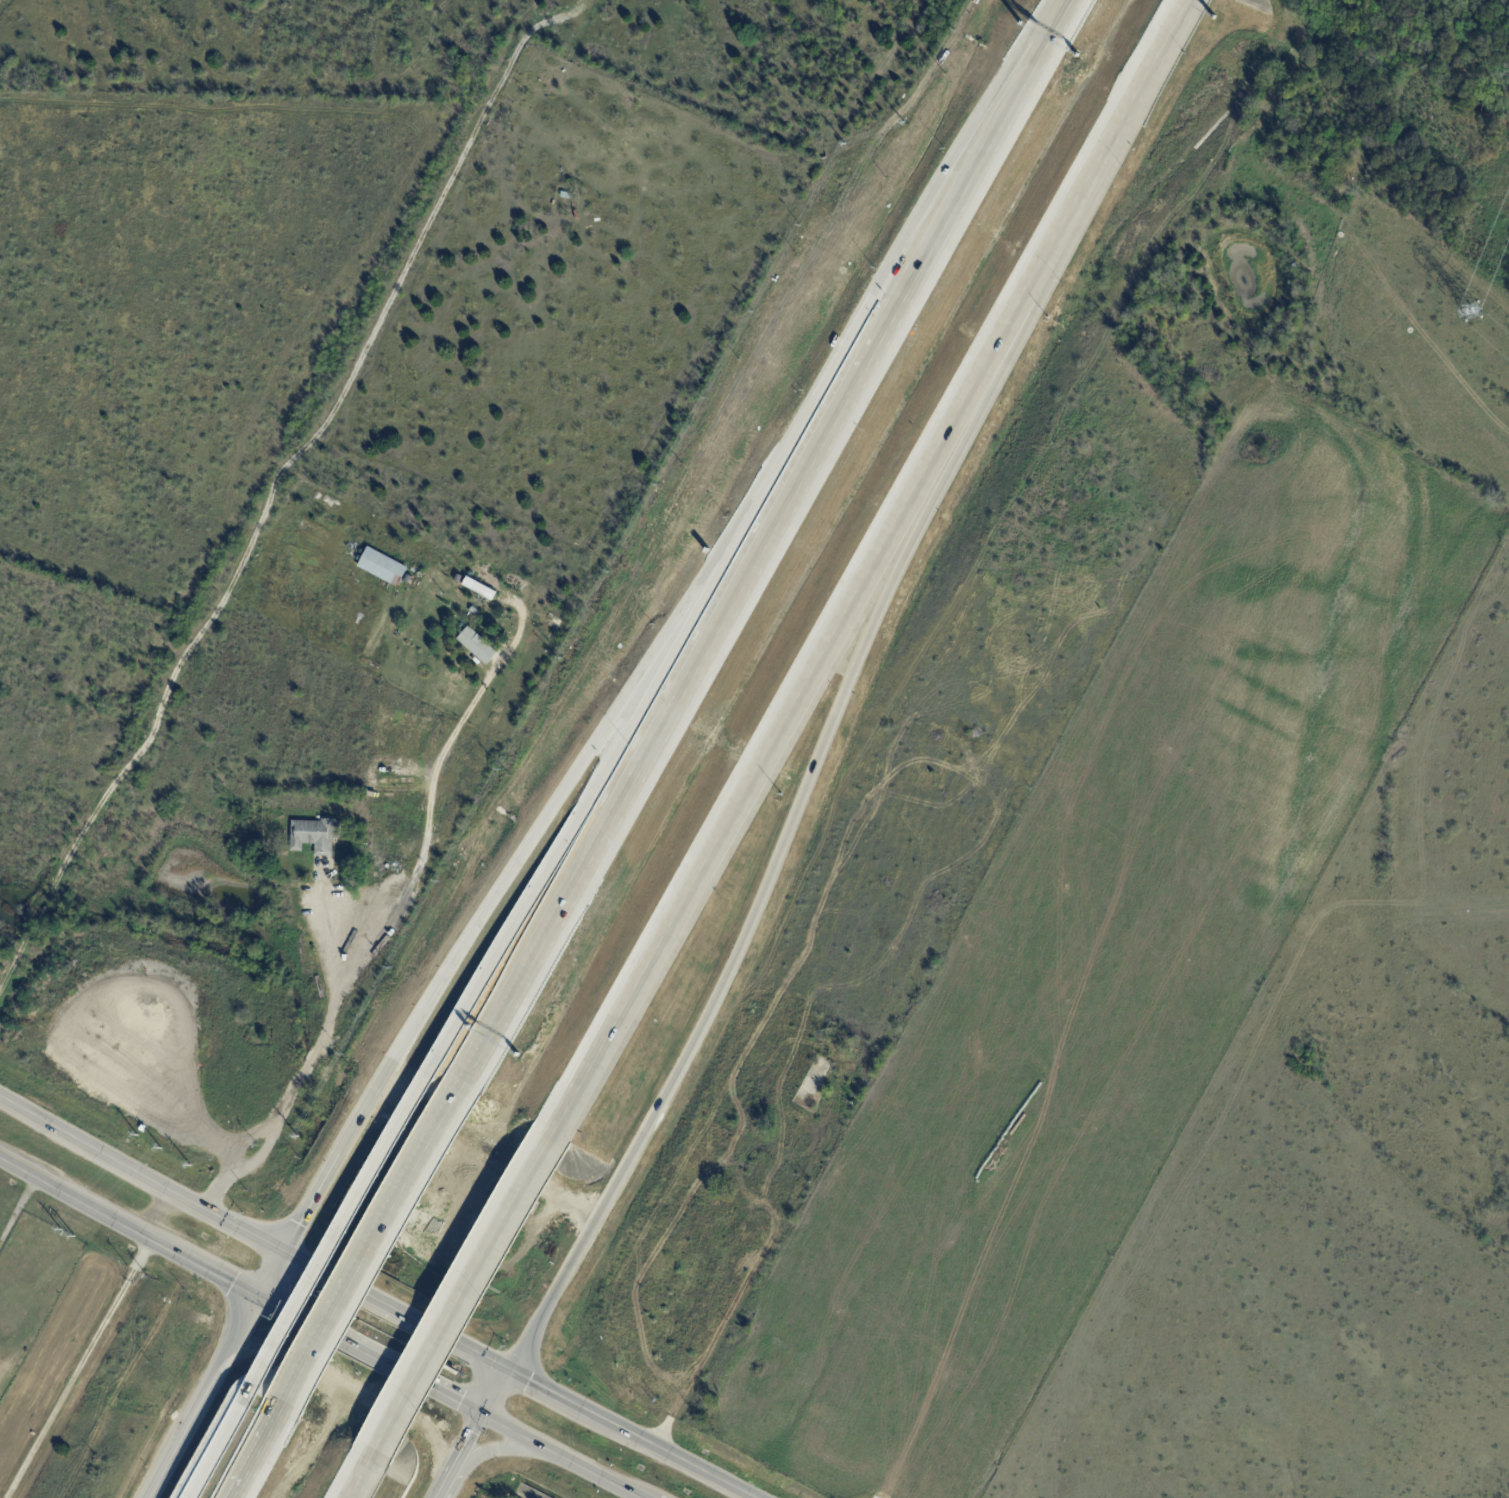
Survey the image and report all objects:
road: (1060, 14)
building: (568, 195)
power tower: (1471, 309)
road: (877, 554)
road: (759, 555)
building: (386, 568)
building: (480, 588)
building: (474, 611)
road: (666, 638)
building: (480, 646)
road: (657, 674)
road: (783, 843)
building: (321, 847)
road: (390, 920)
building: (857, 1046)
building: (763, 1062)
building: (814, 1085)
road: (412, 1107)
building: (733, 1140)
road: (102, 1153)
road: (81, 1202)
road: (17, 1208)
road: (243, 1230)
road: (377, 1246)
traffic signals: (281, 1251)
road: (211, 1270)
road: (269, 1272)
road: (328, 1275)
road: (469, 1291)
traffic signals: (257, 1294)
road: (267, 1299)
road: (424, 1325)
road: (716, 1332)
road: (344, 1339)
road: (492, 1361)
road: (77, 1368)
traffic signals: (511, 1371)
road: (552, 1391)
road: (497, 1393)
road: (447, 1394)
road: (201, 1396)
traffic signals: (484, 1416)
road: (218, 1448)
road: (465, 1448)
road: (494, 1451)
road: (259, 1453)
road: (676, 1454)
road: (562, 1456)
road: (363, 1484)
road: (441, 1489)

